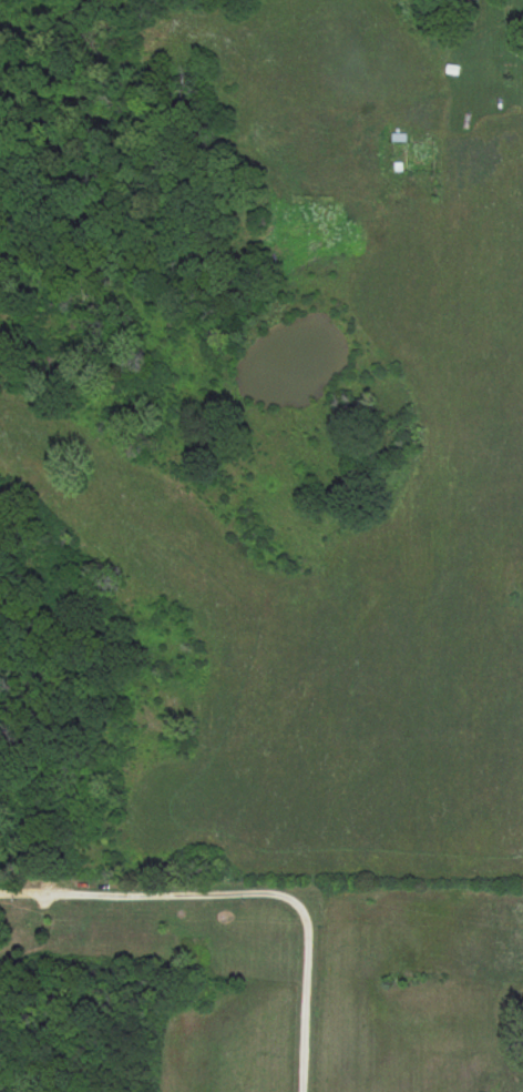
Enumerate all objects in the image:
road: (243, 890)

